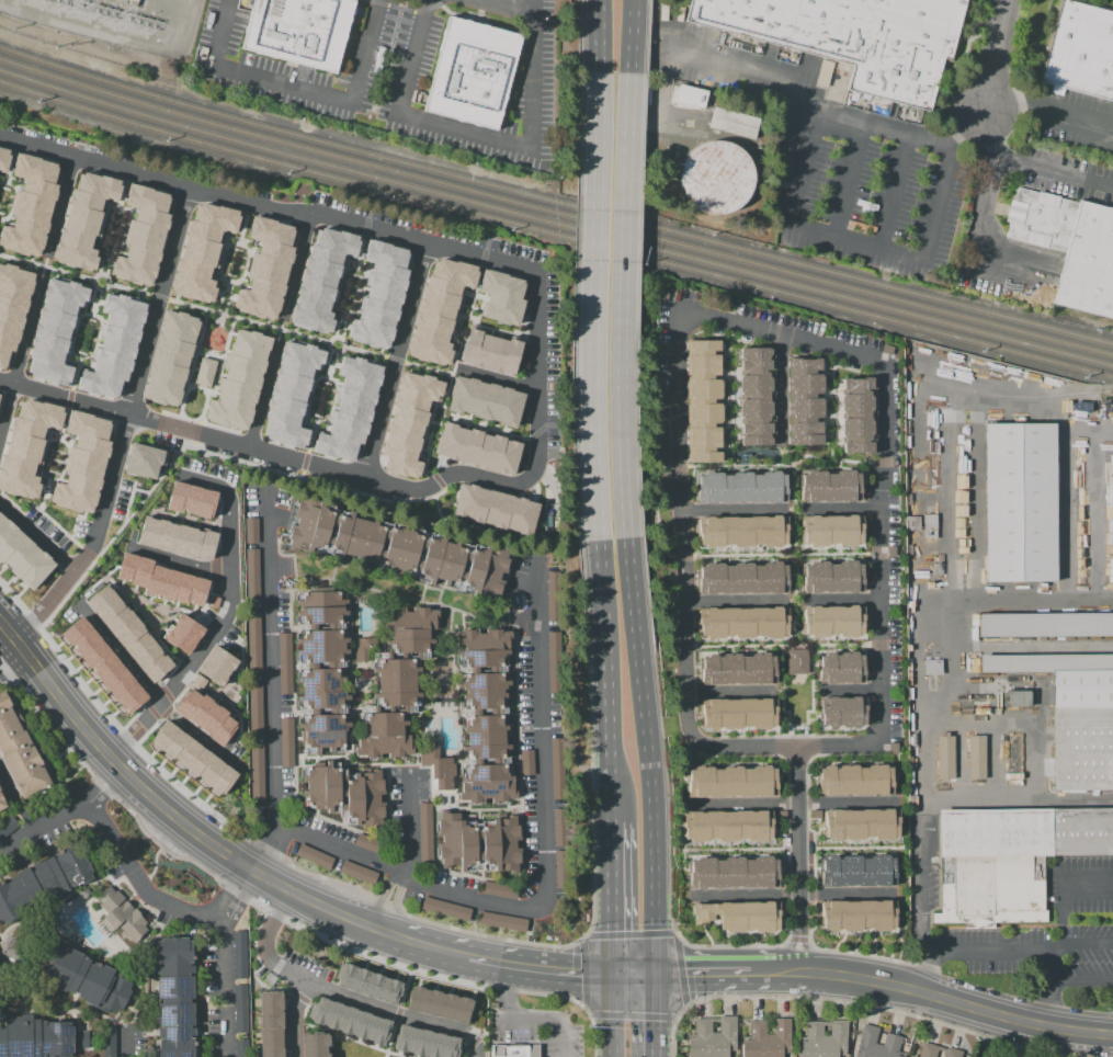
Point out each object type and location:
road: (536, 8)
power substation: (118, 21)
building: (299, 31)
building: (853, 37)
building: (1080, 50)
road: (992, 55)
building: (824, 72)
building: (473, 73)
road: (779, 79)
road: (303, 88)
building: (689, 95)
road: (599, 115)
road: (1048, 115)
road: (631, 117)
building: (731, 122)
road: (503, 141)
building: (3, 159)
road: (9, 163)
road: (1030, 167)
building: (716, 178)
storage tank: (716, 178)
road: (850, 182)
road: (895, 194)
road: (11, 200)
railway: (554, 202)
building: (30, 204)
road: (58, 206)
road: (265, 206)
railway: (555, 213)
road: (103, 218)
building: (84, 219)
railway: (555, 223)
building: (143, 235)
railway: (555, 235)
road: (990, 239)
road: (122, 240)
building: (1071, 246)
road: (884, 250)
building: (202, 251)
road: (223, 253)
road: (988, 260)
road: (42, 266)
road: (294, 268)
building: (265, 269)
road: (354, 274)
road: (105, 275)
road: (238, 279)
building: (321, 279)
road: (1009, 279)
road: (339, 282)
road: (350, 287)
road: (361, 293)
building: (379, 294)
road: (163, 297)
building: (501, 297)
road: (347, 298)
building: (12, 306)
building: (438, 309)
road: (466, 315)
road: (277, 329)
road: (341, 329)
building: (55, 330)
road: (501, 330)
road: (72, 336)
road: (336, 337)
building: (114, 345)
road: (91, 346)
road: (20, 351)
road: (332, 351)
building: (489, 352)
road: (675, 352)
road: (208, 353)
building: (170, 357)
road: (328, 357)
road: (398, 361)
road: (393, 362)
road: (218, 366)
road: (190, 370)
building: (204, 372)
road: (537, 375)
building: (239, 379)
road: (496, 379)
road: (780, 388)
road: (261, 394)
building: (291, 394)
road: (728, 394)
building: (754, 397)
railway: (1015, 398)
road: (308, 400)
building: (484, 400)
building: (703, 401)
building: (807, 401)
park: (192, 402)
road: (834, 405)
building: (349, 408)
road: (201, 412)
building: (858, 416)
road: (309, 417)
road: (327, 417)
road: (318, 421)
building: (408, 422)
road: (124, 425)
road: (431, 427)
road: (489, 429)
road: (597, 444)
road: (621, 444)
building: (26, 446)
road: (164, 447)
building: (477, 448)
road: (56, 451)
road: (786, 451)
road: (265, 452)
road: (42, 456)
road: (54, 459)
building: (143, 459)
building: (82, 463)
road: (783, 465)
road: (50, 470)
road: (61, 471)
road: (318, 481)
building: (830, 485)
building: (742, 486)
road: (139, 490)
building: (190, 499)
road: (140, 500)
road: (11, 502)
road: (127, 502)
building: (1019, 504)
building: (495, 508)
road: (841, 508)
road: (731, 509)
road: (794, 509)
road: (655, 510)
road: (161, 514)
road: (468, 524)
road: (72, 526)
road: (61, 530)
building: (250, 530)
building: (836, 531)
building: (742, 533)
road: (36, 535)
building: (175, 538)
building: (397, 548)
road: (780, 554)
road: (795, 554)
building: (22, 555)
road: (293, 558)
road: (174, 560)
building: (251, 572)
road: (102, 576)
building: (743, 577)
building: (832, 577)
building: (161, 580)
road: (67, 593)
building: (548, 595)
road: (842, 600)
road: (134, 601)
building: (212, 601)
road: (732, 601)
road: (793, 601)
road: (431, 603)
road: (154, 604)
road: (173, 609)
road: (920, 615)
road: (507, 616)
road: (219, 620)
road: (376, 622)
building: (743, 623)
building: (834, 623)
road: (215, 627)
road: (319, 627)
building: (1046, 627)
building: (128, 633)
building: (183, 633)
road: (13, 637)
building: (553, 640)
building: (253, 643)
building: (361, 645)
road: (783, 646)
road: (447, 650)
road: (383, 655)
building: (796, 661)
road: (12, 662)
building: (284, 662)
road: (321, 663)
building: (103, 664)
building: (216, 664)
building: (839, 666)
building: (931, 667)
building: (321, 668)
building: (738, 668)
road: (484, 669)
road: (292, 674)
building: (197, 681)
building: (396, 682)
road: (351, 687)
road: (850, 690)
road: (151, 691)
road: (209, 691)
road: (729, 692)
road: (235, 693)
park: (796, 698)
road: (811, 698)
building: (1017, 700)
road: (781, 701)
road: (384, 707)
road: (421, 707)
building: (254, 708)
road: (322, 709)
road: (488, 712)
building: (842, 713)
road: (70, 714)
building: (1074, 714)
building: (738, 715)
building: (204, 716)
building: (485, 716)
road: (159, 718)
road: (239, 724)
road: (530, 728)
road: (147, 732)
road: (614, 737)
building: (285, 741)
road: (462, 749)
building: (20, 750)
building: (193, 757)
building: (944, 757)
building: (975, 757)
road: (490, 761)
building: (525, 762)
road: (377, 763)
building: (438, 765)
building: (556, 769)
building: (255, 773)
road: (431, 778)
building: (734, 780)
building: (854, 782)
road: (7, 785)
road: (342, 792)
building: (345, 793)
building: (2, 802)
road: (387, 802)
road: (791, 804)
road: (445, 805)
road: (65, 815)
road: (651, 815)
road: (409, 822)
building: (7, 826)
building: (863, 826)
building: (727, 828)
building: (423, 832)
road: (249, 839)
building: (365, 842)
building: (478, 843)
road: (478, 843)
road: (271, 845)
road: (793, 850)
building: (559, 851)
building: (313, 856)
building: (1009, 861)
road: (522, 864)
road: (154, 866)
building: (855, 870)
building: (356, 872)
building: (734, 872)
road: (254, 873)
building: (43, 880)
road: (139, 880)
road: (423, 880)
road: (918, 883)
road: (128, 887)
building: (498, 889)
road: (1059, 889)
road: (138, 891)
road: (792, 896)
road: (618, 897)
road: (61, 899)
road: (387, 901)
building: (444, 908)
road: (274, 912)
building: (122, 913)
building: (703, 916)
building: (855, 917)
building: (750, 918)
building: (501, 921)
road: (629, 934)
road: (263, 943)
road: (70, 945)
road: (1084, 945)
road: (970, 947)
road: (436, 951)
building: (239, 955)
road: (220, 959)
road: (524, 968)
road: (680, 969)
road: (144, 970)
road: (584, 974)
road: (5, 976)
building: (82, 977)
road: (602, 977)
traffic signals: (618, 977)
road: (640, 977)
road: (773, 977)
traffic signals: (662, 978)
road: (706, 978)
road: (1065, 979)
building: (367, 981)
building: (174, 997)
road: (955, 1001)
building: (439, 1002)
road: (1045, 1002)
road: (859, 1004)
road: (58, 1009)
road: (397, 1014)
road: (631, 1014)
road: (291, 1016)
road: (617, 1016)
road: (661, 1016)
building: (239, 1018)
building: (349, 1019)
road: (525, 1020)
building: (271, 1023)
road: (121, 1026)
building: (38, 1037)
building: (712, 1037)
building: (765, 1038)
building: (821, 1039)
building: (107, 1041)
building: (424, 1041)
building: (315, 1044)
building: (876, 1044)
road: (121, 1045)
building: (925, 1049)
building: (514, 1050)
building: (951, 1052)
building: (236, 1056)
building: (911, 1056)

